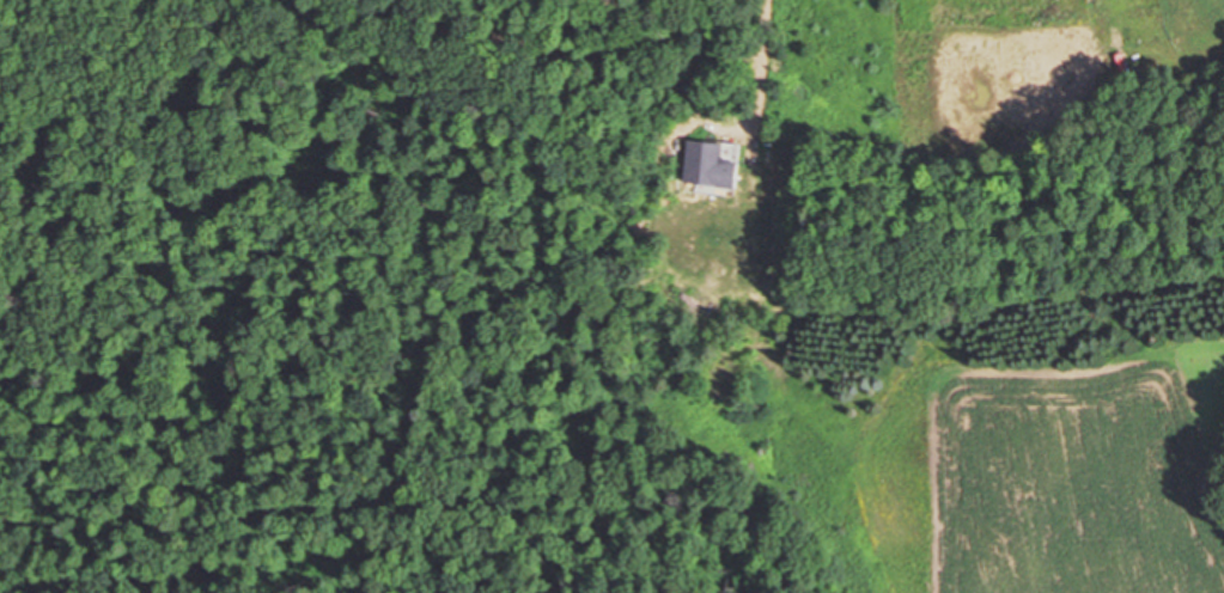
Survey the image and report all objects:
building: (705, 164)

